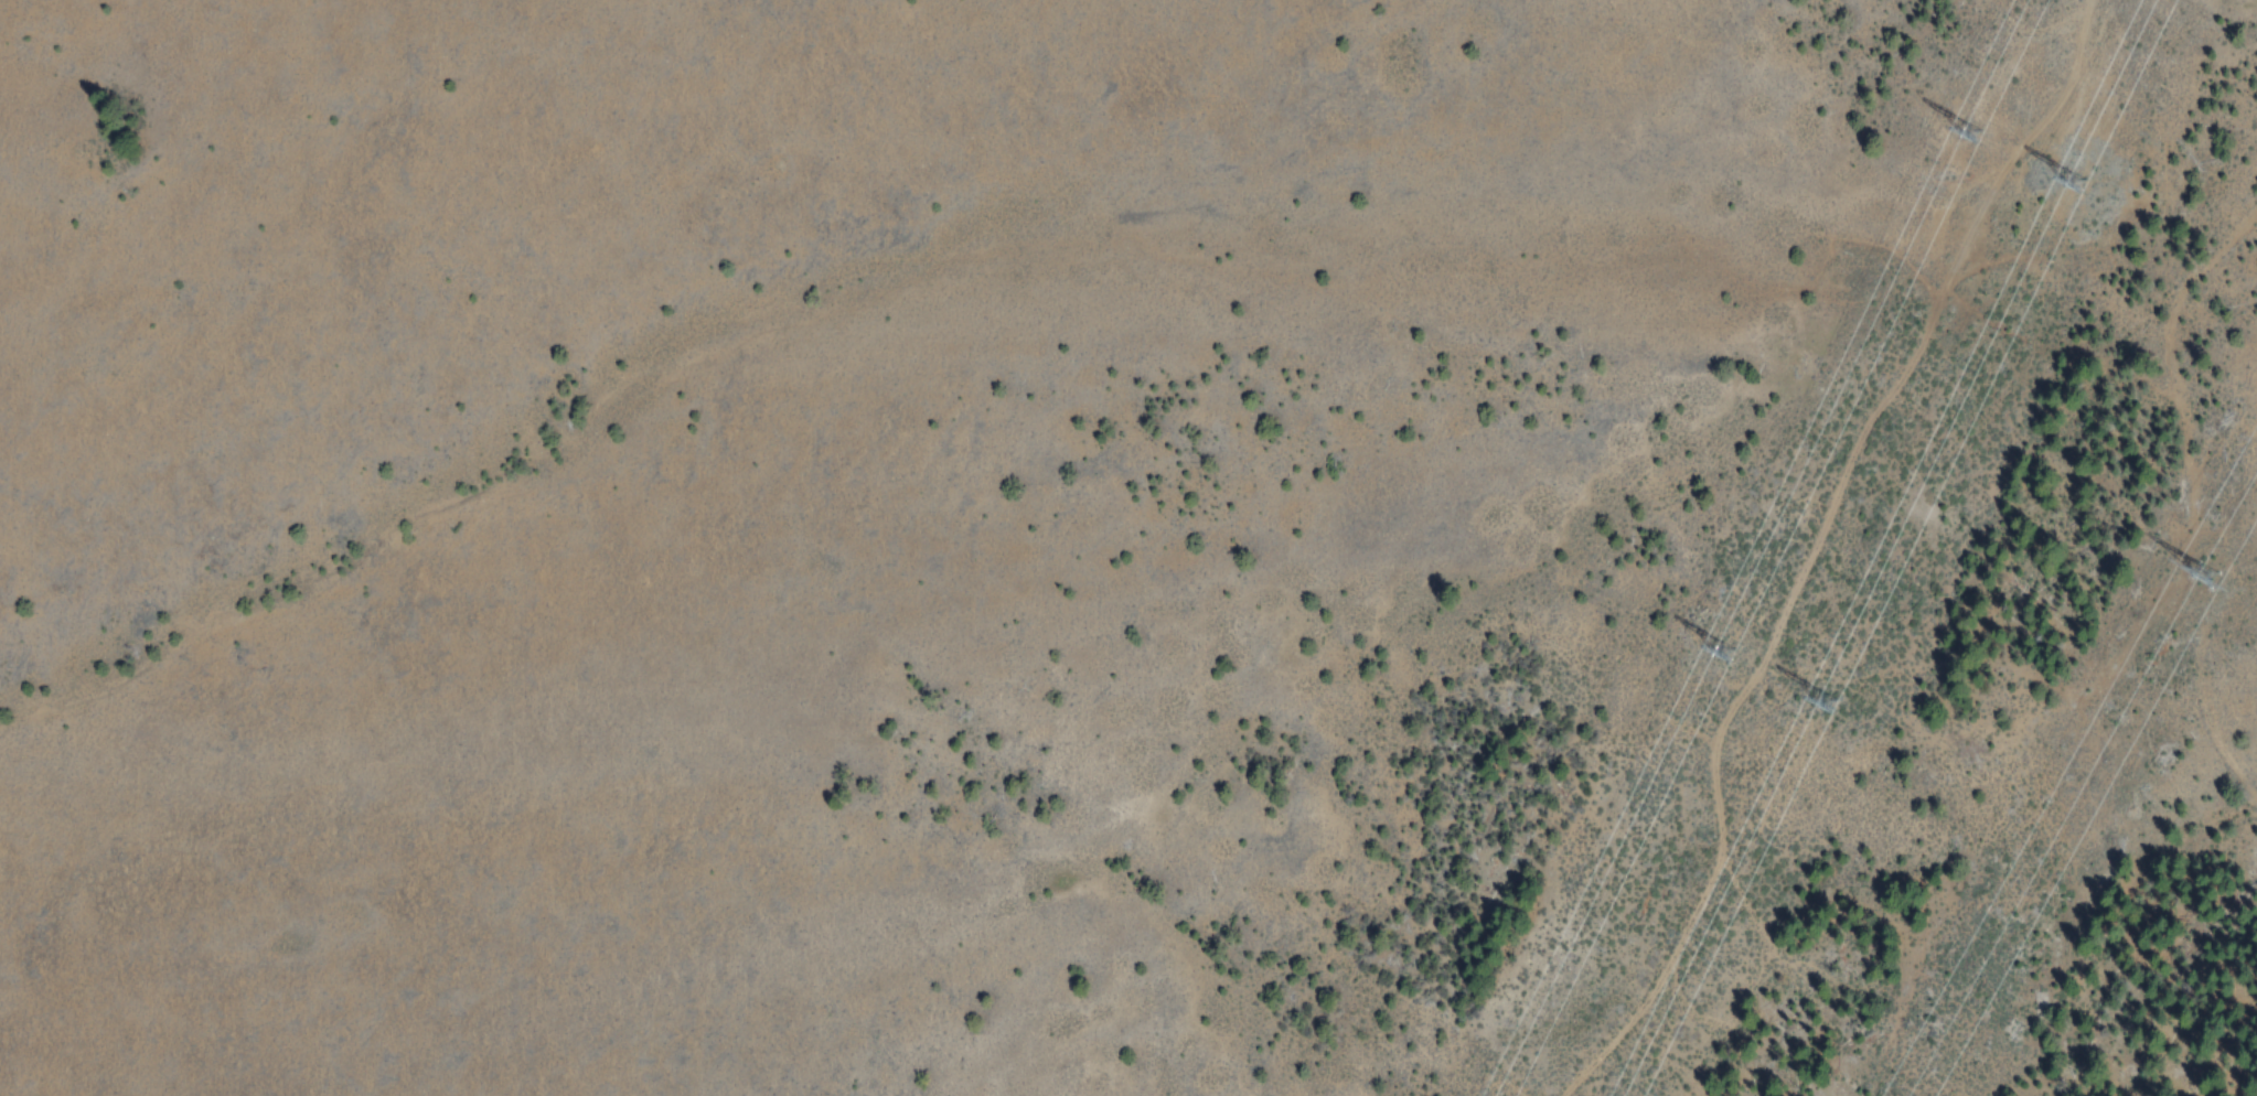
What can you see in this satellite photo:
power tower: (1969, 129)
power tower: (2072, 184)
road: (1807, 550)
power tower: (2205, 584)
power tower: (1725, 636)
power tower: (1820, 706)

